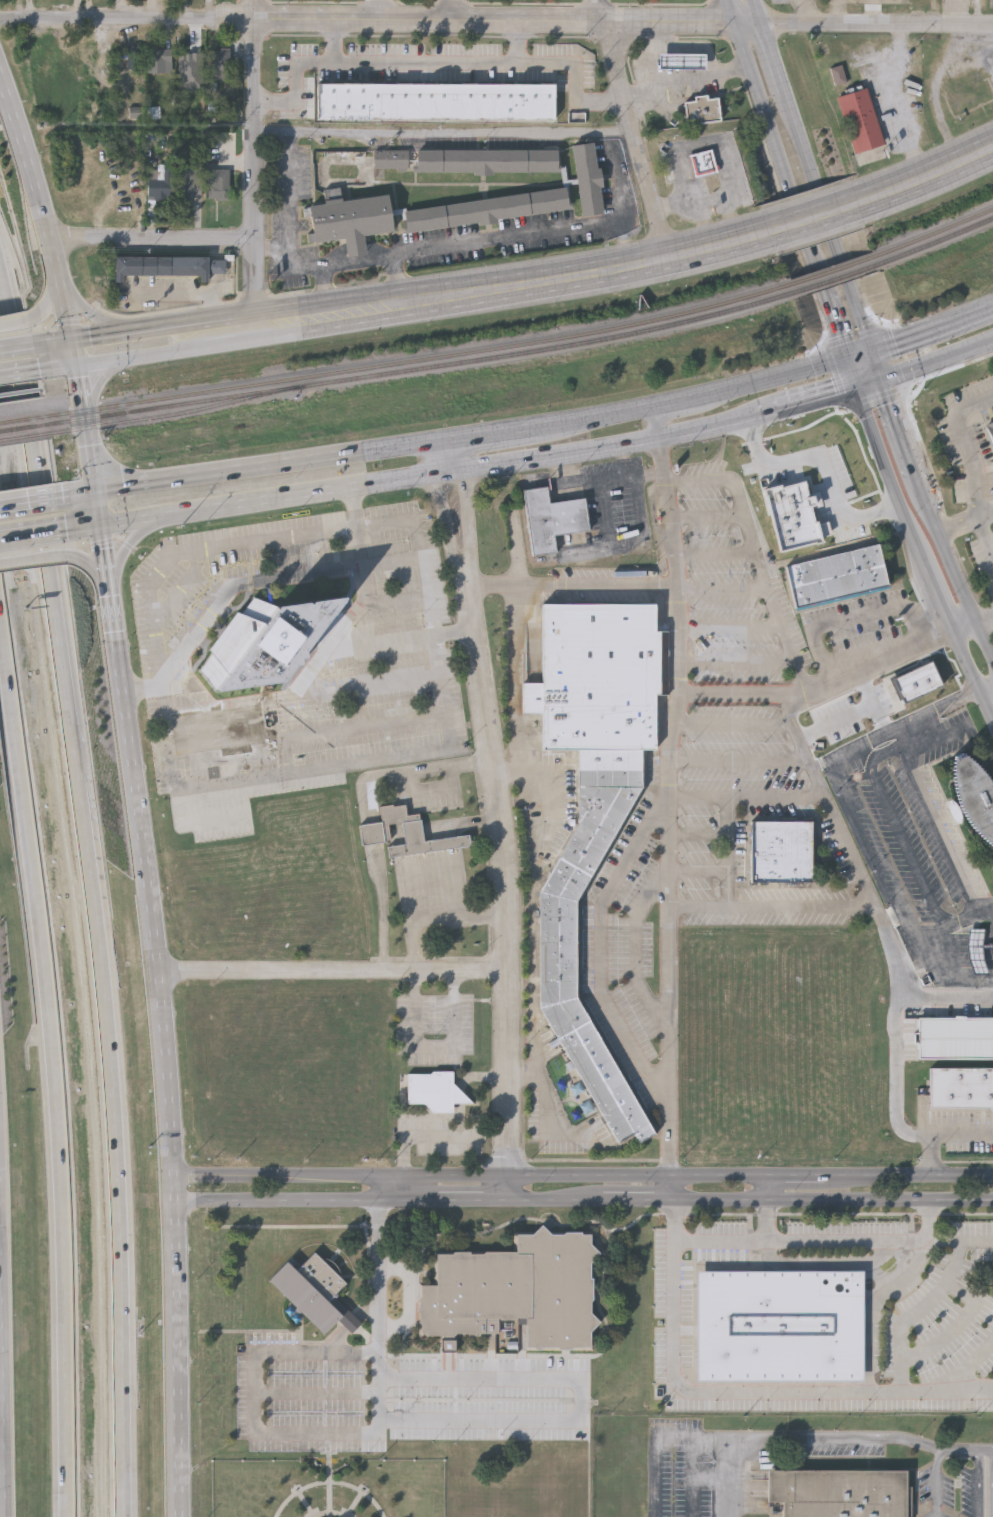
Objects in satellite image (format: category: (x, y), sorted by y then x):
road: (454, 11)
road: (762, 12)
road: (809, 12)
road: (840, 12)
road: (874, 12)
road: (958, 12)
road: (979, 12)
road: (383, 21)
road: (879, 25)
road: (664, 36)
road: (334, 42)
road: (520, 43)
road: (967, 46)
road: (671, 47)
building: (134, 58)
road: (777, 58)
building: (160, 62)
road: (436, 64)
building: (681, 64)
gas station: (681, 64)
building: (218, 65)
road: (979, 68)
building: (838, 75)
road: (688, 79)
building: (966, 91)
road: (761, 99)
road: (899, 102)
building: (434, 103)
road: (938, 108)
building: (701, 110)
building: (860, 120)
road: (460, 132)
road: (638, 140)
road: (697, 140)
road: (803, 140)
building: (390, 159)
road: (254, 160)
building: (487, 162)
building: (701, 165)
road: (929, 174)
building: (587, 181)
building: (190, 183)
building: (219, 185)
building: (160, 187)
road: (291, 195)
road: (40, 201)
building: (487, 211)
road: (826, 214)
road: (815, 217)
building: (351, 223)
road: (800, 225)
railway: (931, 233)
road: (153, 238)
railway: (933, 241)
road: (468, 247)
road: (273, 251)
building: (167, 267)
railway: (833, 270)
railway: (835, 276)
road: (400, 280)
road: (534, 282)
road: (853, 297)
road: (48, 306)
road: (826, 307)
road: (88, 315)
road: (253, 321)
road: (13, 324)
road: (118, 329)
road: (932, 331)
traffic signals: (72, 336)
road: (14, 345)
traffic signals: (872, 354)
road: (123, 356)
railway: (419, 356)
road: (858, 359)
traffic signals: (77, 364)
railway: (421, 364)
traffic signals: (845, 364)
road: (938, 364)
road: (877, 368)
road: (16, 372)
road: (850, 377)
traffic signals: (883, 382)
road: (869, 386)
traffic signals: (856, 391)
road: (813, 403)
road: (29, 407)
railway: (173, 410)
railway: (20, 416)
railway: (21, 425)
building: (990, 428)
railway: (21, 433)
road: (902, 434)
road: (451, 442)
road: (611, 449)
road: (449, 459)
road: (974, 464)
road: (828, 466)
road: (721, 482)
traffic signals: (96, 496)
road: (255, 504)
road: (27, 505)
road: (904, 510)
road: (654, 513)
building: (797, 516)
road: (466, 517)
road: (710, 518)
road: (448, 520)
building: (552, 521)
road: (965, 522)
traffic signals: (100, 527)
road: (29, 536)
road: (124, 549)
road: (946, 554)
road: (31, 557)
road: (718, 557)
road: (89, 560)
road: (0, 571)
building: (836, 574)
road: (270, 583)
parking lot: (734, 586)
road: (572, 587)
road: (185, 588)
road: (726, 592)
road: (776, 602)
road: (362, 604)
road: (856, 617)
road: (983, 618)
parking lot: (854, 626)
road: (963, 626)
road: (733, 627)
building: (262, 638)
road: (437, 639)
road: (400, 640)
road: (983, 643)
parking lot: (297, 649)
road: (739, 663)
road: (973, 674)
building: (598, 675)
building: (919, 681)
road: (821, 683)
road: (143, 689)
road: (305, 698)
building: (252, 725)
road: (734, 725)
building: (216, 732)
road: (314, 733)
road: (911, 735)
parking lot: (945, 740)
road: (935, 741)
road: (740, 760)
building: (217, 761)
road: (428, 768)
road: (822, 769)
road: (512, 777)
road: (528, 777)
road: (434, 794)
parking lot: (433, 796)
road: (747, 796)
building: (975, 797)
road: (827, 802)
road: (670, 803)
road: (852, 809)
parking lot: (746, 820)
road: (447, 828)
road: (900, 828)
road: (940, 829)
building: (406, 835)
road: (701, 835)
road: (369, 840)
building: (781, 850)
road: (732, 852)
road: (700, 872)
road: (462, 874)
road: (450, 877)
road: (383, 878)
road: (438, 878)
road: (425, 880)
road: (509, 880)
road: (413, 882)
road: (403, 902)
road: (772, 908)
road: (888, 908)
road: (489, 919)
road: (154, 924)
road: (436, 927)
parking lot: (625, 942)
road: (604, 945)
building: (558, 948)
road: (637, 958)
building: (978, 960)
road: (535, 967)
road: (335, 969)
road: (943, 981)
road: (947, 1002)
parking lot: (960, 1009)
parking lot: (435, 1030)
road: (898, 1030)
building: (955, 1037)
road: (111, 1040)
road: (53, 1044)
road: (435, 1048)
road: (469, 1079)
building: (961, 1086)
building: (432, 1092)
road: (546, 1105)
road: (939, 1133)
parking lot: (964, 1133)
parking lot: (442, 1138)
road: (426, 1140)
road: (583, 1178)
road: (584, 1202)
road: (770, 1221)
road: (572, 1226)
road: (821, 1240)
road: (960, 1242)
road: (829, 1261)
road: (380, 1276)
building: (311, 1288)
building: (515, 1292)
road: (410, 1299)
road: (875, 1304)
road: (917, 1312)
road: (960, 1323)
road: (353, 1324)
building: (780, 1324)
road: (969, 1362)
road: (744, 1392)
road: (318, 1394)
road: (0, 1395)
parking lot: (303, 1400)
parking lot: (489, 1400)
road: (581, 1401)
road: (256, 1421)
road: (1, 1434)
road: (798, 1438)
road: (656, 1443)
road: (970, 1451)
road: (693, 1478)
road: (936, 1482)
road: (978, 1484)
park: (328, 1488)
parking lot: (936, 1489)
parking lot: (968, 1492)
building: (837, 1494)
parking lot: (936, 1514)

